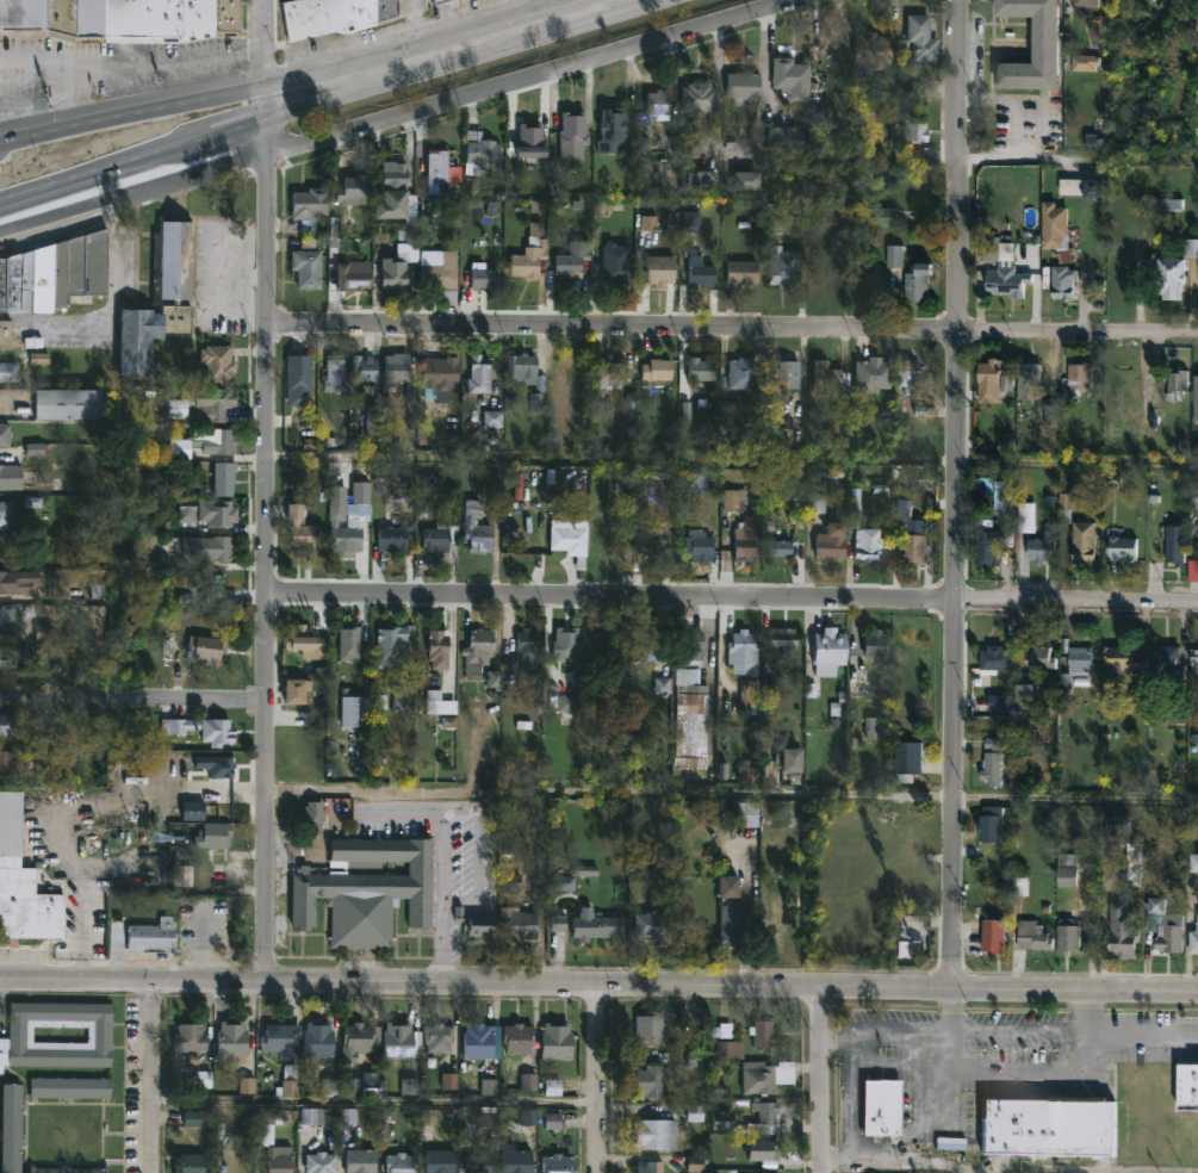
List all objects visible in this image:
building: (439, 1)
building: (1086, 2)
building: (331, 15)
building: (119, 19)
building: (923, 37)
building: (1035, 46)
building: (873, 48)
building: (1085, 58)
road: (134, 66)
road: (768, 67)
building: (792, 77)
road: (538, 80)
road: (291, 81)
building: (743, 87)
building: (699, 97)
road: (327, 99)
road: (75, 100)
building: (658, 101)
building: (612, 129)
building: (572, 130)
building: (915, 130)
building: (781, 136)
building: (529, 142)
building: (482, 150)
road: (1079, 167)
building: (441, 170)
building: (701, 180)
building: (746, 180)
building: (1084, 186)
building: (350, 190)
building: (391, 191)
building: (309, 206)
building: (882, 217)
building: (775, 218)
building: (1055, 234)
building: (1192, 249)
building: (894, 257)
building: (528, 259)
building: (572, 261)
building: (306, 265)
building: (783, 267)
building: (659, 271)
building: (696, 271)
building: (615, 272)
building: (743, 272)
building: (54, 274)
building: (392, 274)
building: (440, 274)
building: (482, 278)
building: (1171, 278)
road: (230, 279)
building: (352, 279)
building: (1007, 279)
building: (918, 283)
building: (1064, 283)
building: (159, 300)
road: (734, 330)
building: (4, 334)
building: (217, 364)
building: (365, 367)
building: (395, 370)
building: (657, 370)
building: (701, 370)
building: (8, 372)
building: (299, 372)
building: (610, 372)
building: (743, 373)
building: (334, 374)
building: (478, 374)
building: (786, 374)
building: (989, 374)
building: (873, 376)
building: (439, 377)
building: (908, 377)
building: (1080, 378)
building: (528, 379)
building: (828, 380)
building: (1029, 380)
building: (1178, 381)
building: (1126, 383)
building: (211, 402)
building: (66, 405)
building: (374, 418)
building: (4, 435)
building: (1117, 437)
building: (203, 443)
road: (734, 463)
building: (11, 478)
building: (223, 478)
building: (697, 480)
building: (621, 490)
road: (272, 491)
road: (957, 494)
building: (1194, 497)
building: (1003, 499)
building: (348, 515)
building: (5, 516)
building: (294, 522)
building: (1081, 523)
building: (477, 526)
building: (215, 535)
building: (437, 535)
building: (395, 536)
building: (607, 538)
building: (569, 539)
building: (746, 539)
building: (831, 542)
building: (653, 544)
building: (868, 545)
building: (988, 545)
building: (700, 546)
building: (915, 546)
building: (1042, 547)
building: (784, 548)
building: (1122, 548)
building: (1196, 548)
building: (1175, 551)
building: (4, 584)
road: (734, 600)
building: (6, 620)
building: (49, 632)
building: (784, 641)
building: (349, 643)
building: (308, 644)
building: (876, 644)
building: (566, 645)
building: (647, 645)
building: (389, 646)
building: (527, 646)
building: (691, 648)
building: (437, 650)
building: (206, 651)
building: (828, 652)
building: (476, 653)
building: (744, 653)
building: (11, 657)
building: (1041, 657)
building: (997, 659)
building: (1081, 659)
building: (1123, 659)
building: (1196, 660)
building: (1166, 662)
building: (614, 675)
building: (294, 693)
building: (757, 695)
road: (136, 697)
building: (353, 710)
building: (691, 721)
building: (7, 726)
building: (201, 730)
building: (907, 759)
building: (792, 761)
building: (993, 762)
building: (7, 765)
building: (215, 767)
building: (747, 771)
road: (735, 797)
building: (195, 811)
building: (311, 814)
building: (751, 815)
building: (992, 821)
building: (1118, 826)
building: (213, 836)
building: (1135, 862)
building: (1194, 863)
road: (478, 865)
building: (1067, 868)
building: (23, 886)
building: (728, 887)
building: (364, 889)
road: (442, 889)
building: (731, 916)
building: (476, 923)
building: (517, 923)
building: (1166, 924)
building: (596, 926)
building: (653, 926)
building: (558, 927)
building: (1125, 927)
building: (994, 933)
building: (1035, 933)
building: (1068, 935)
building: (153, 936)
building: (1193, 941)
road: (598, 987)
road: (949, 1016)
road: (1087, 1016)
building: (650, 1026)
building: (20, 1032)
building: (764, 1034)
building: (191, 1037)
building: (360, 1037)
building: (441, 1037)
building: (517, 1037)
building: (283, 1038)
building: (231, 1041)
building: (403, 1041)
building: (480, 1041)
building: (559, 1041)
building: (321, 1042)
road: (1008, 1042)
building: (731, 1051)
building: (758, 1076)
road: (151, 1079)
road: (597, 1079)
building: (291, 1080)
road: (819, 1080)
building: (652, 1081)
building: (69, 1088)
road: (374, 1101)
road: (857, 1101)
building: (887, 1106)
building: (766, 1117)
building: (185, 1118)
building: (1045, 1125)
building: (11, 1128)
building: (657, 1134)
road: (925, 1138)
building: (274, 1141)
building: (763, 1149)
building: (519, 1160)
building: (364, 1161)
building: (441, 1161)
building: (322, 1162)
building: (193, 1163)
building: (403, 1163)
building: (482, 1163)
building: (561, 1163)
building: (650, 1167)
building: (68, 1169)

